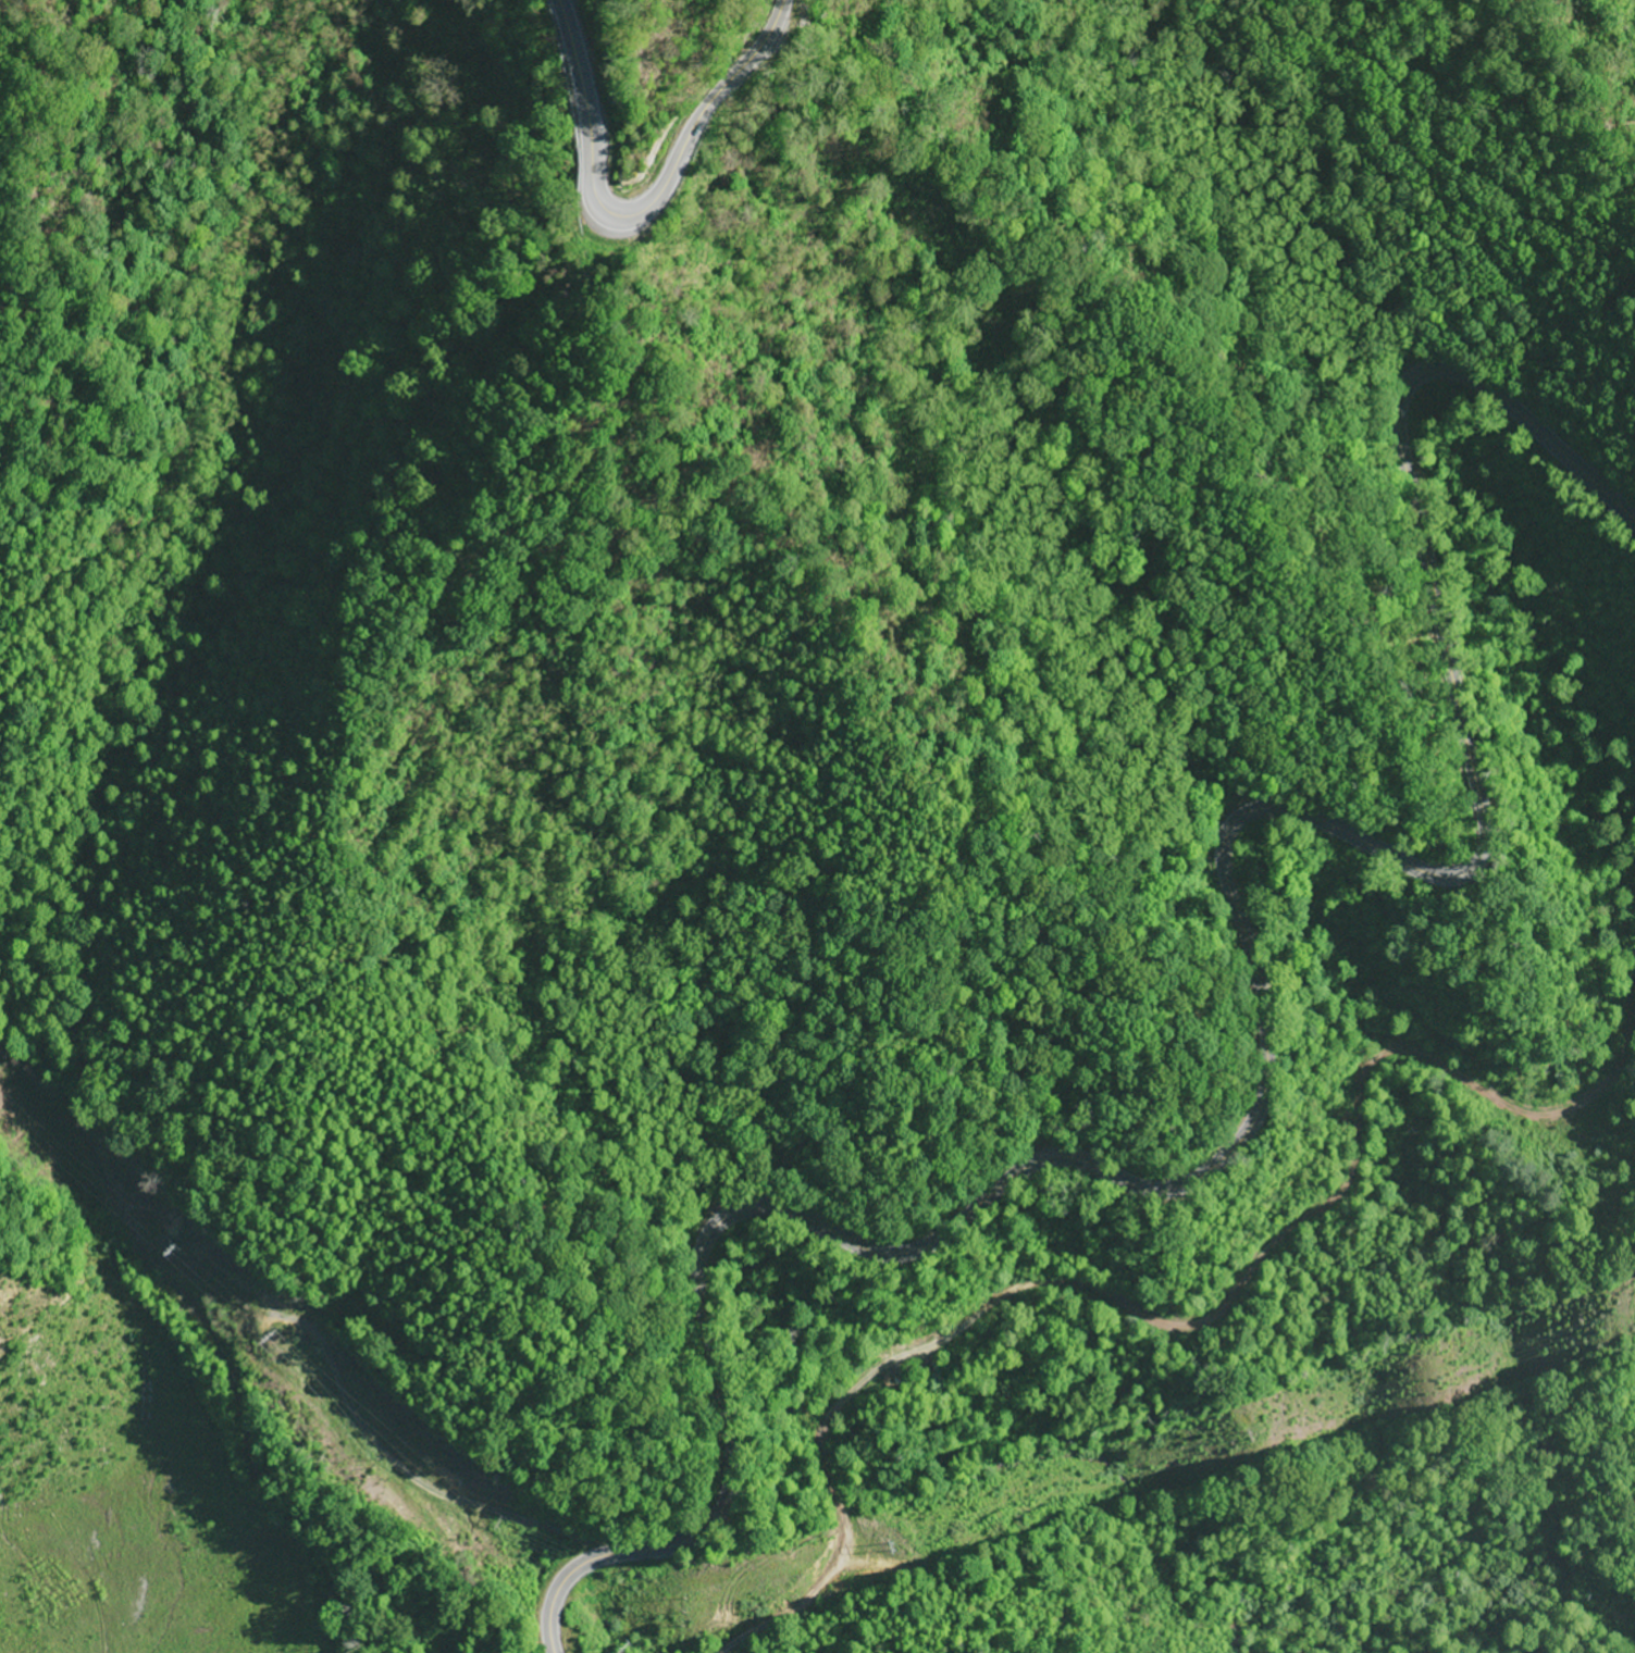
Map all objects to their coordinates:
road: (642, 209)
road: (1267, 1029)
power tower: (625, 1651)

